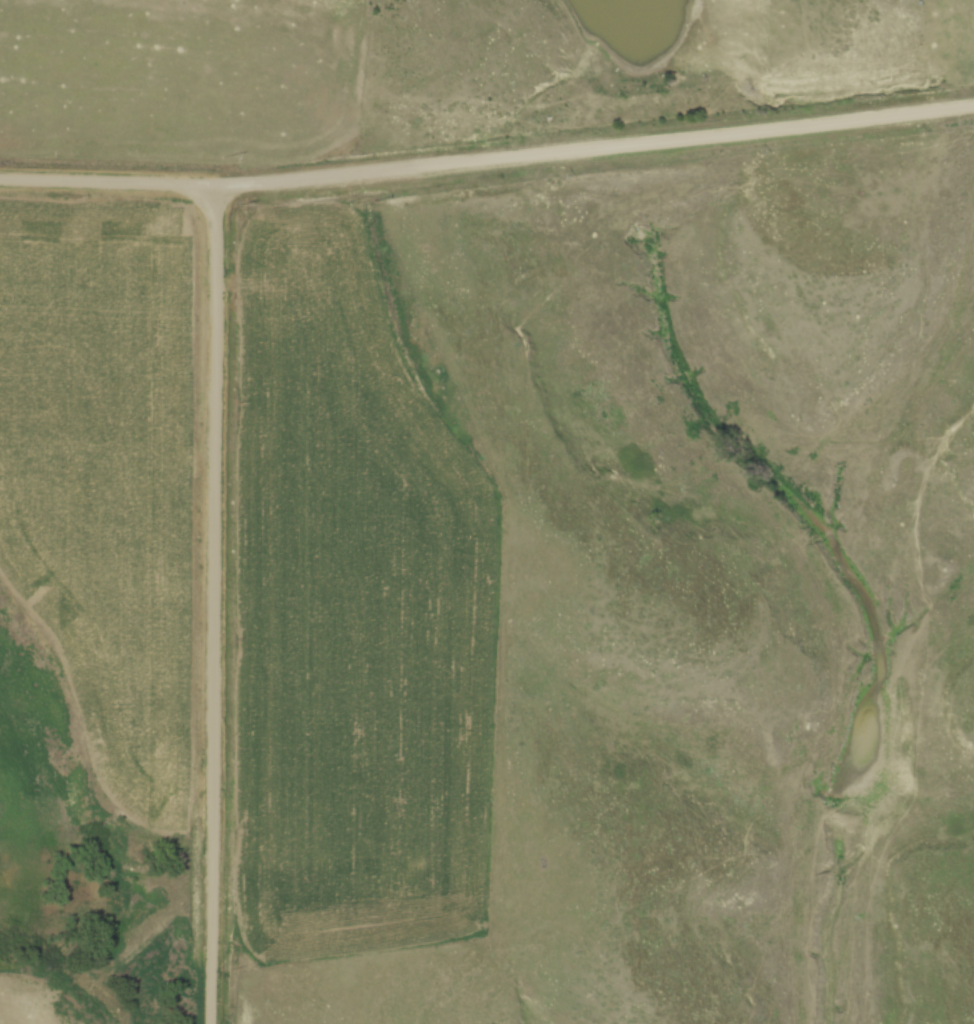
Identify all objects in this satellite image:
road: (596, 152)
road: (108, 183)
road: (213, 605)
crop: (7, 1001)

